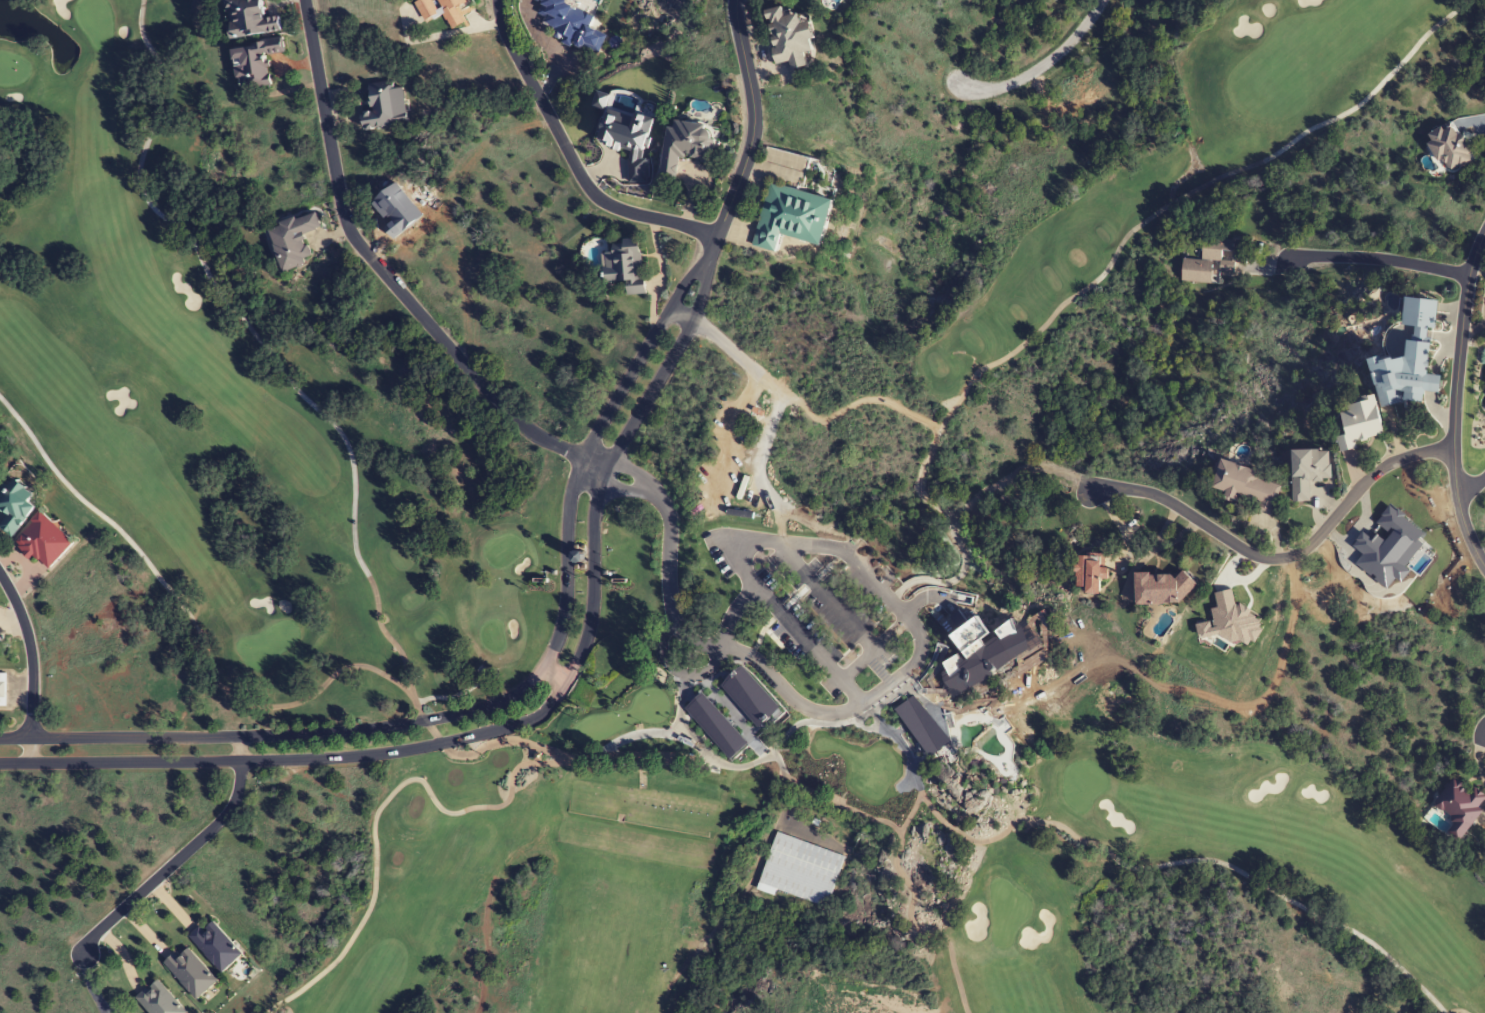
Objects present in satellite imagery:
building: (440, 10)
building: (248, 18)
building: (572, 23)
building: (789, 36)
building: (254, 63)
road: (1038, 68)
building: (385, 106)
road: (753, 121)
building: (685, 145)
building: (1449, 146)
road: (569, 158)
building: (791, 216)
building: (292, 240)
road: (1378, 258)
building: (1211, 260)
building: (625, 264)
road: (660, 272)
road: (386, 277)
road: (716, 339)
building: (1410, 360)
road: (1454, 398)
building: (1359, 423)
road: (1470, 483)
building: (1246, 486)
park: (347, 502)
building: (14, 506)
building: (43, 541)
road: (1282, 558)
building: (1088, 574)
building: (1163, 588)
building: (1002, 644)
building: (0, 645)
road: (31, 664)
road: (555, 674)
building: (745, 677)
building: (2, 690)
road: (866, 696)
road: (512, 697)
building: (709, 715)
road: (528, 720)
building: (932, 746)
building: (1459, 807)
road: (182, 854)
building: (799, 870)
park: (687, 880)
building: (215, 946)
building: (190, 973)
building: (158, 1000)

